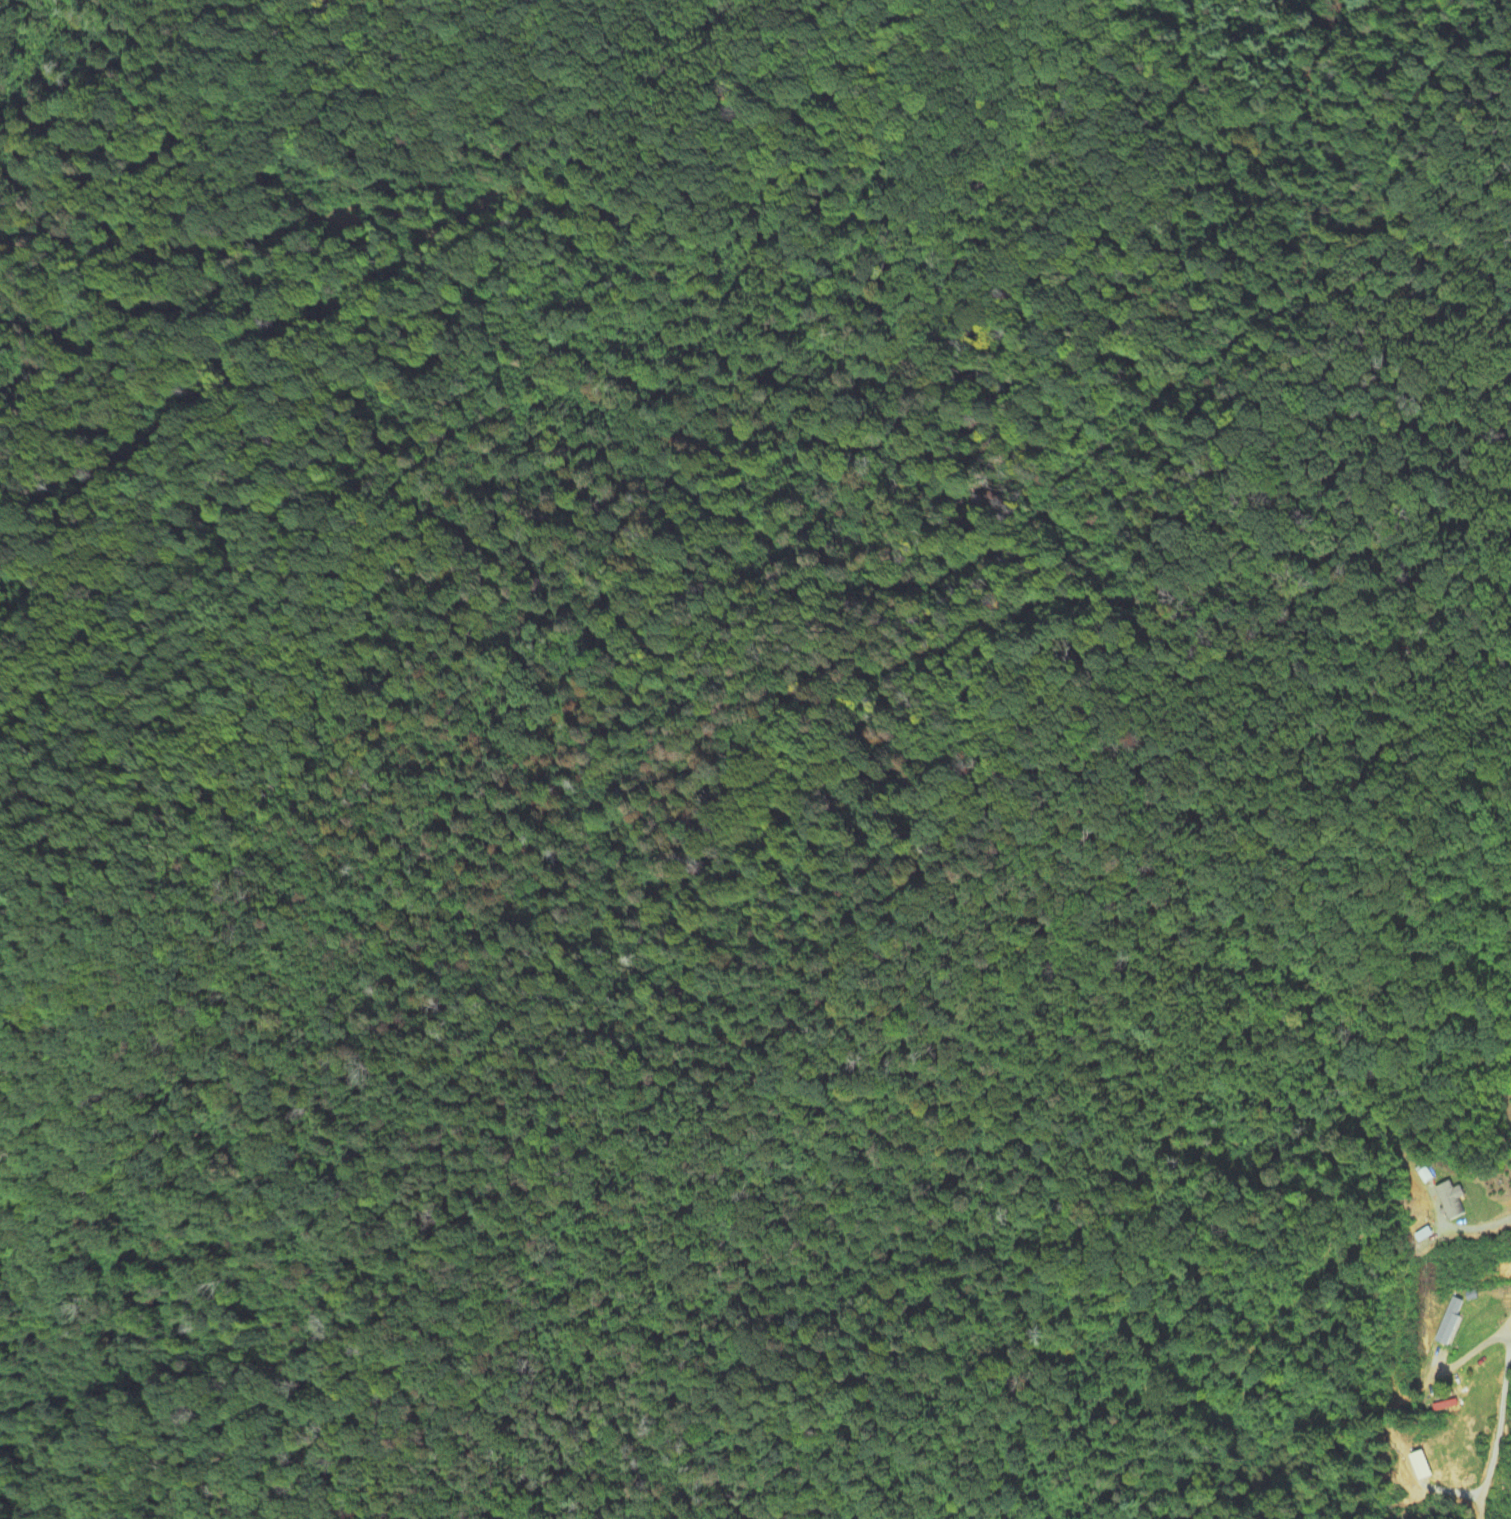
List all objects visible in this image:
building: (1447, 1201)
building: (1447, 1322)
road: (1497, 1433)

